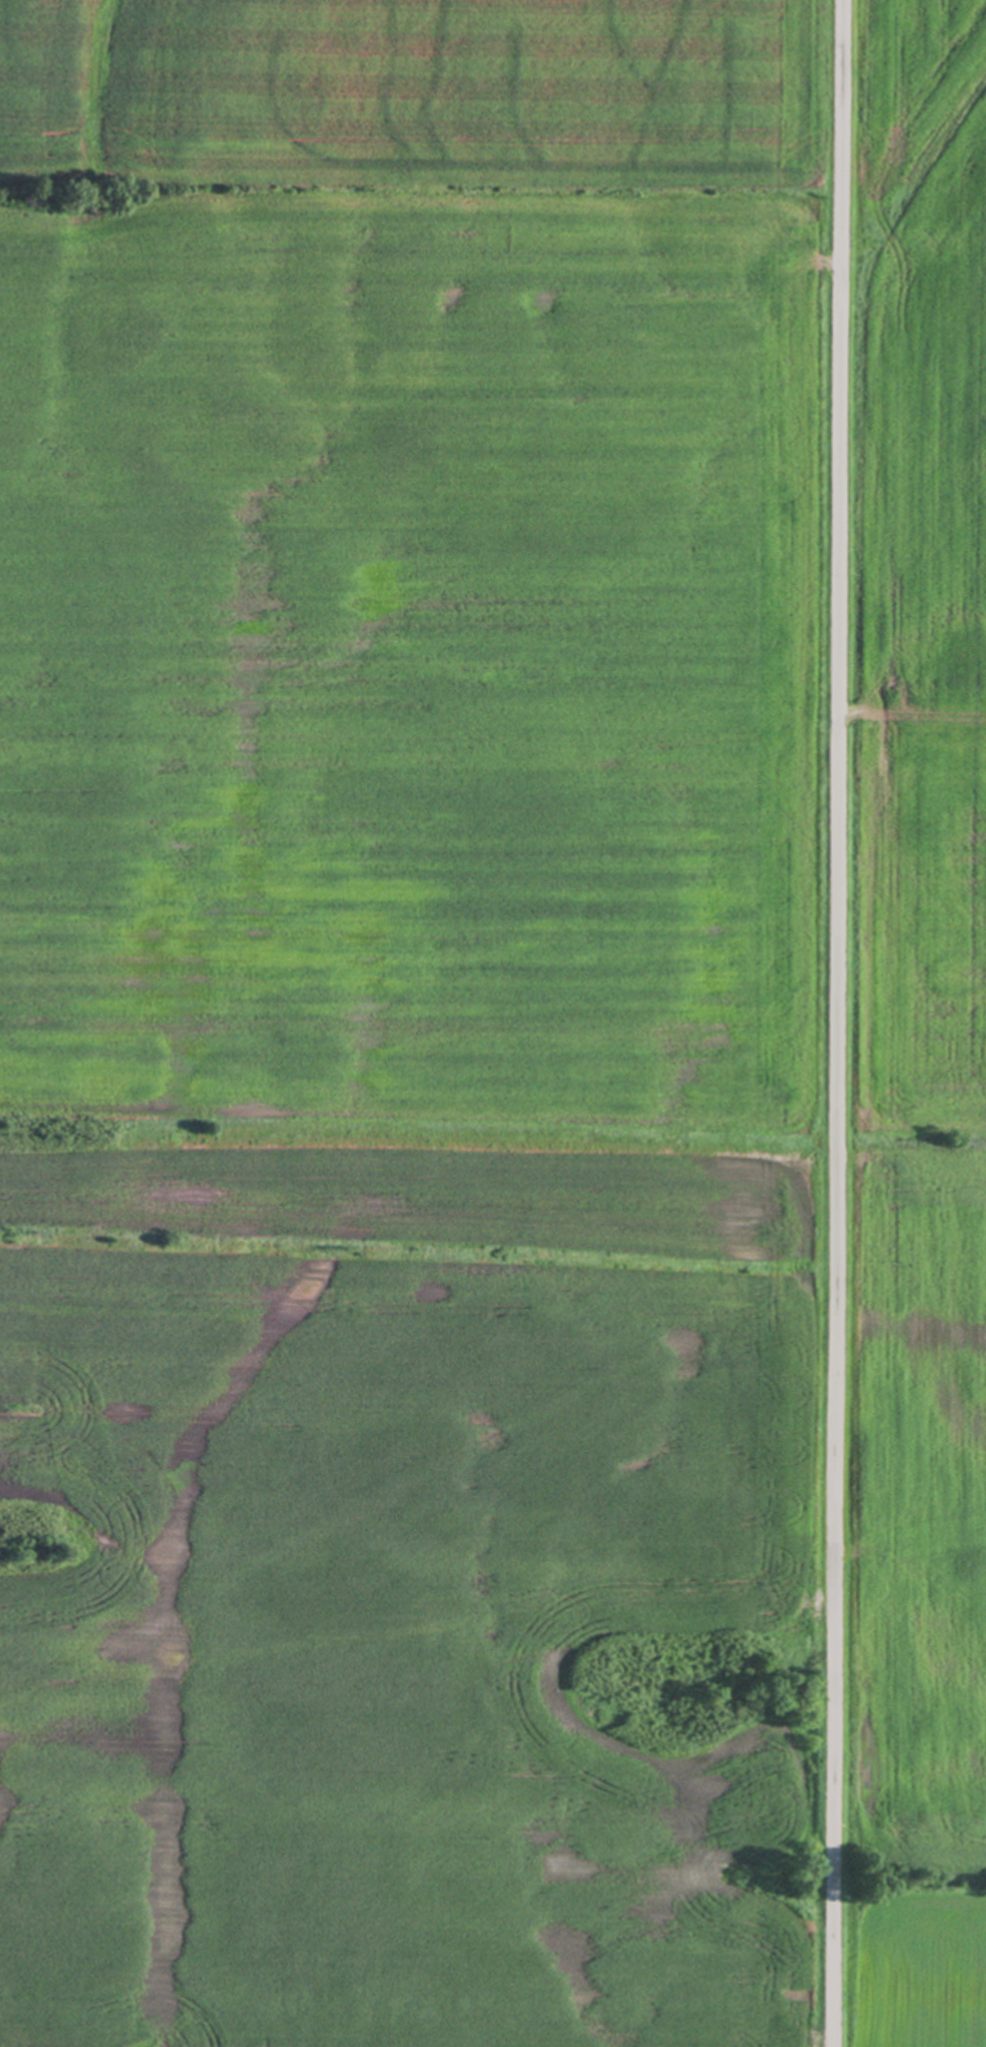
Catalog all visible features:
road: (832, 1023)

